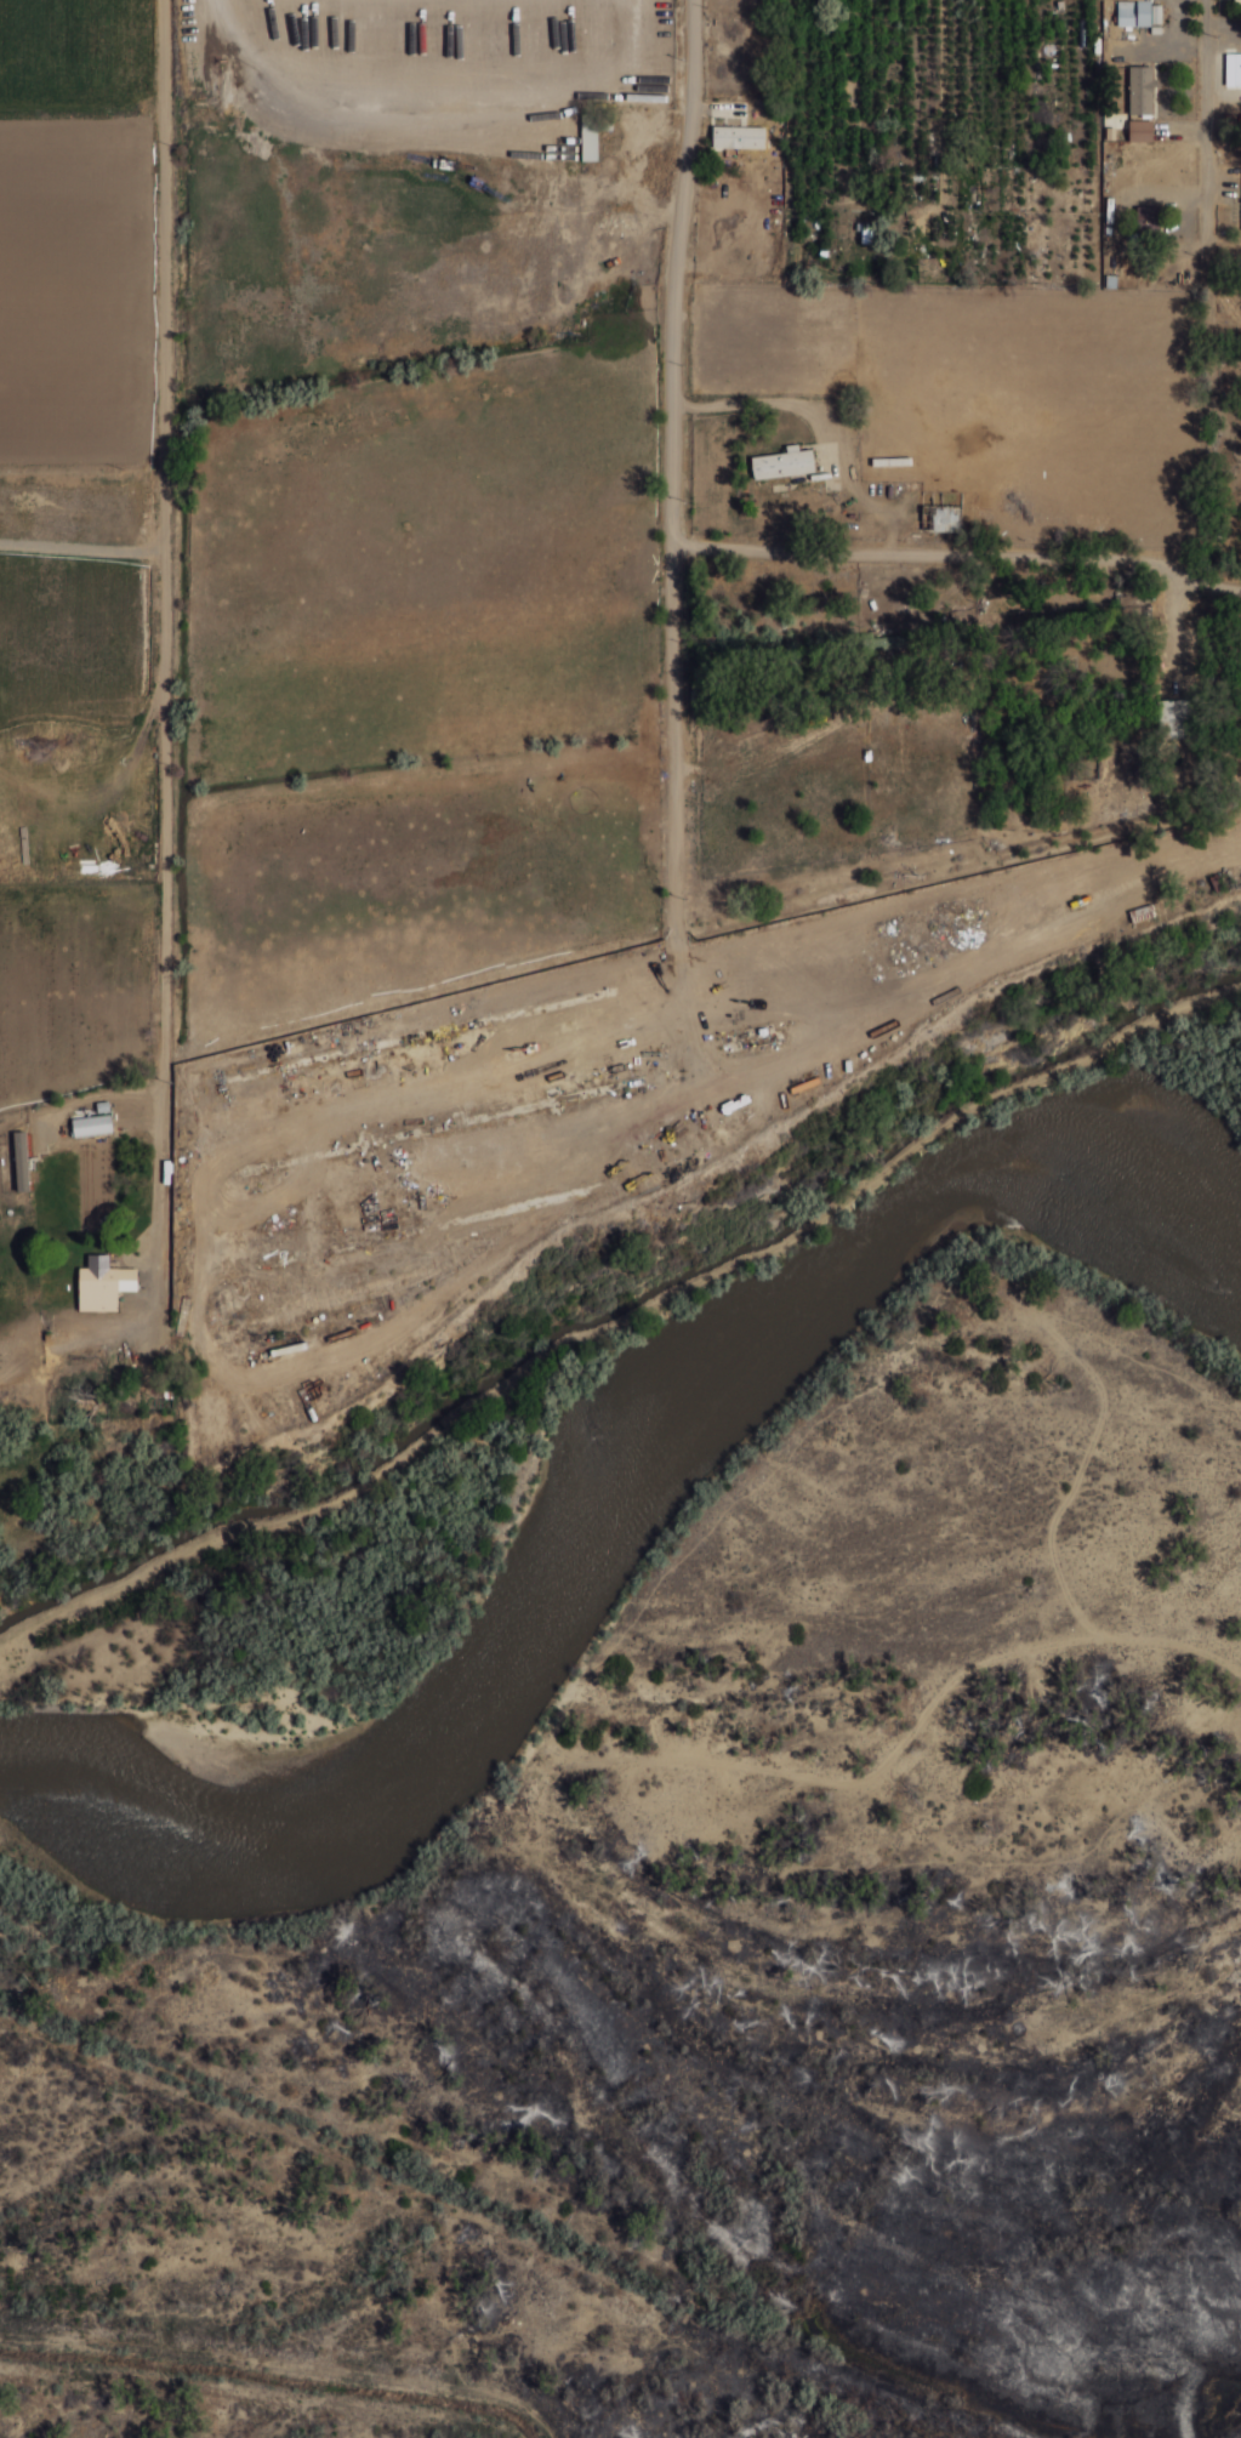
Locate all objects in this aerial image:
building: (1240, 8)
building: (1135, 12)
building: (1240, 81)
building: (1140, 90)
building: (1140, 130)
building: (592, 132)
building: (738, 136)
road: (1171, 193)
building: (1148, 223)
road: (620, 446)
building: (782, 463)
building: (945, 519)
road: (933, 531)
building: (1125, 667)
building: (1171, 718)
road: (570, 912)
building: (91, 1124)
building: (103, 1288)
river: (615, 1528)

